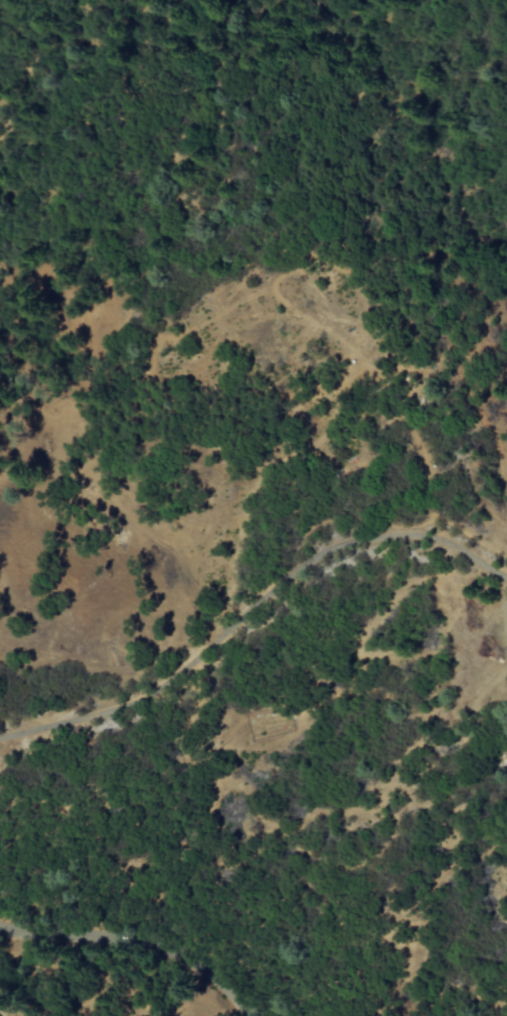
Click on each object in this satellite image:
road: (137, 941)

